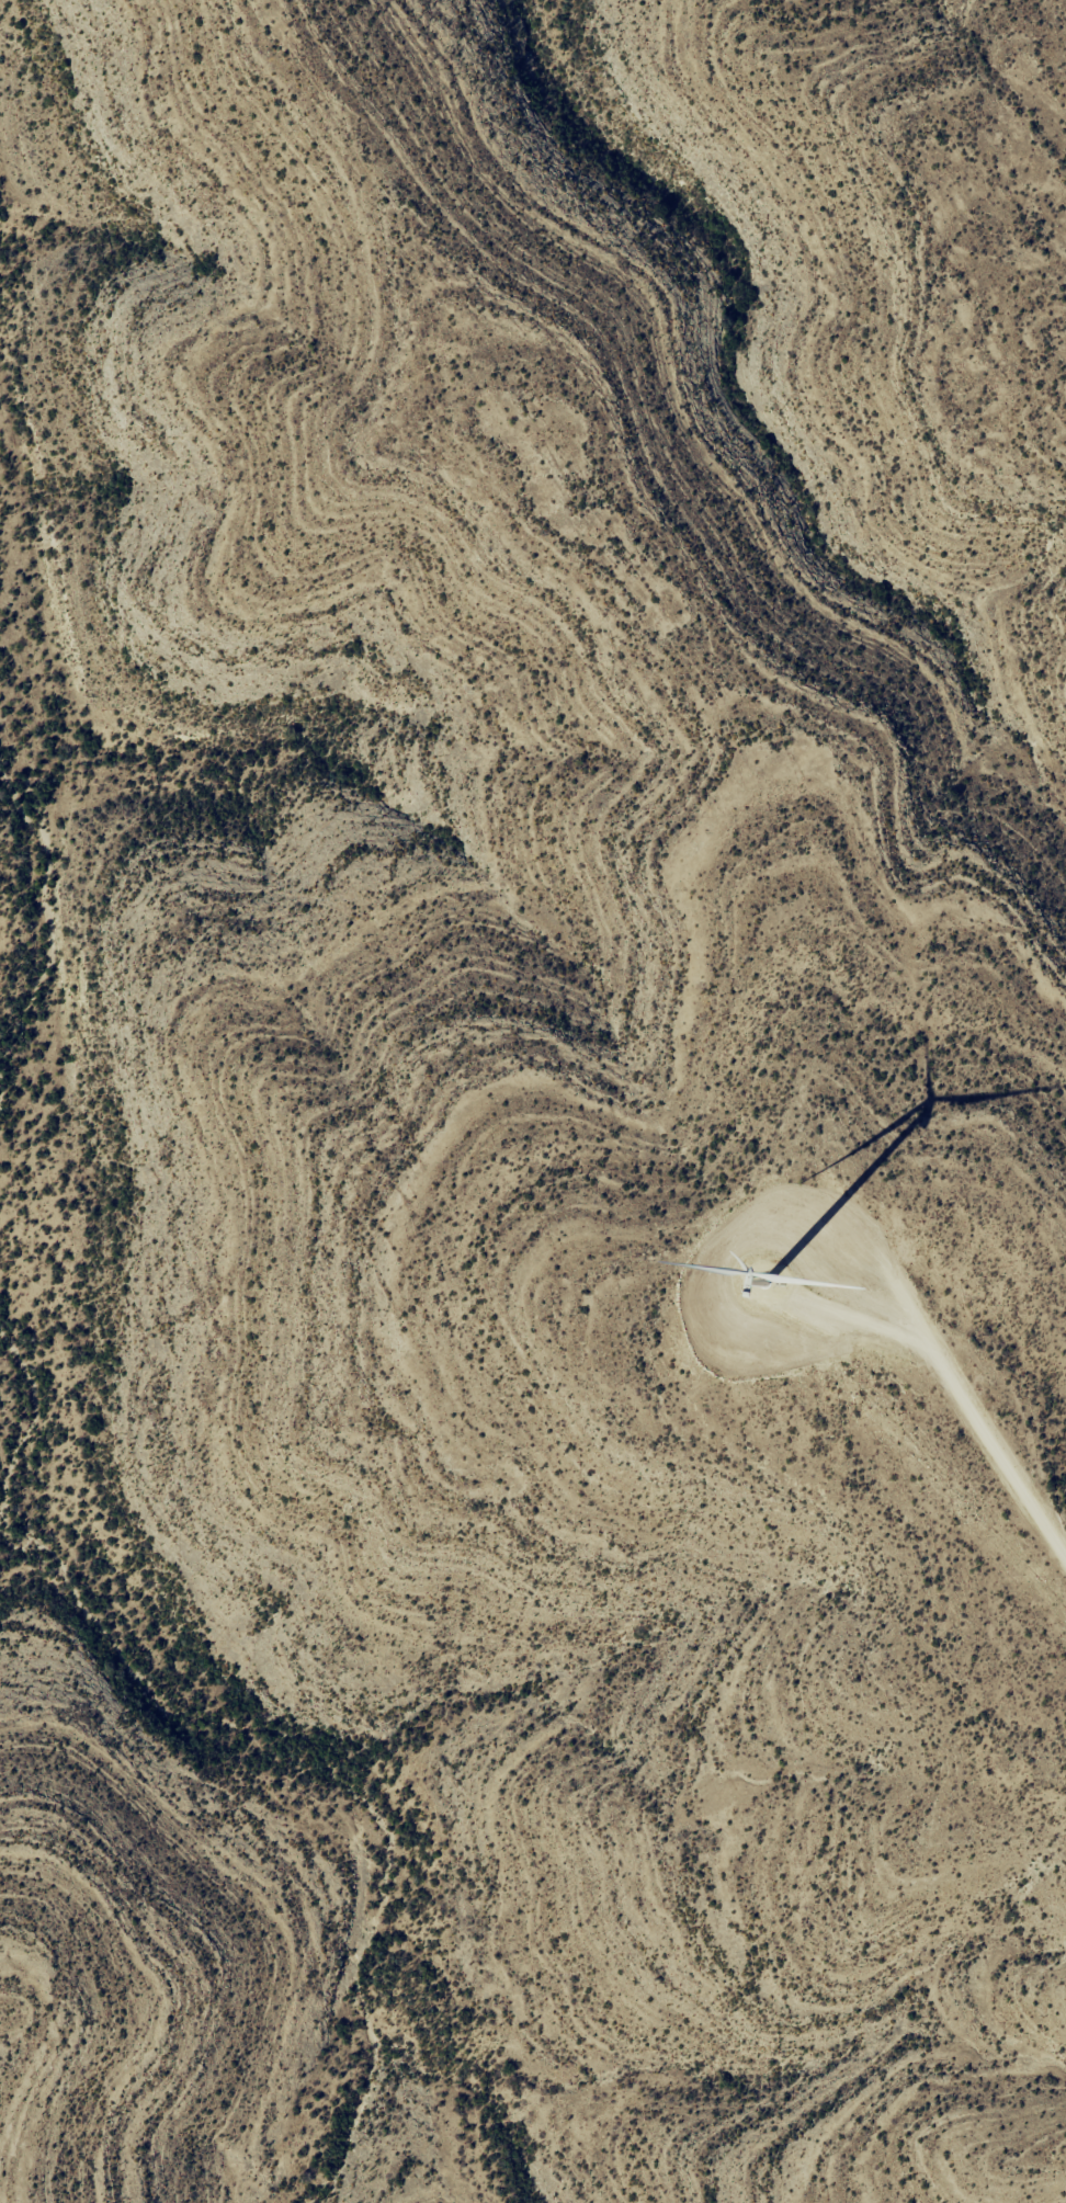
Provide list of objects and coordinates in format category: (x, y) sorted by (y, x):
wind turbine: (763, 1282)

